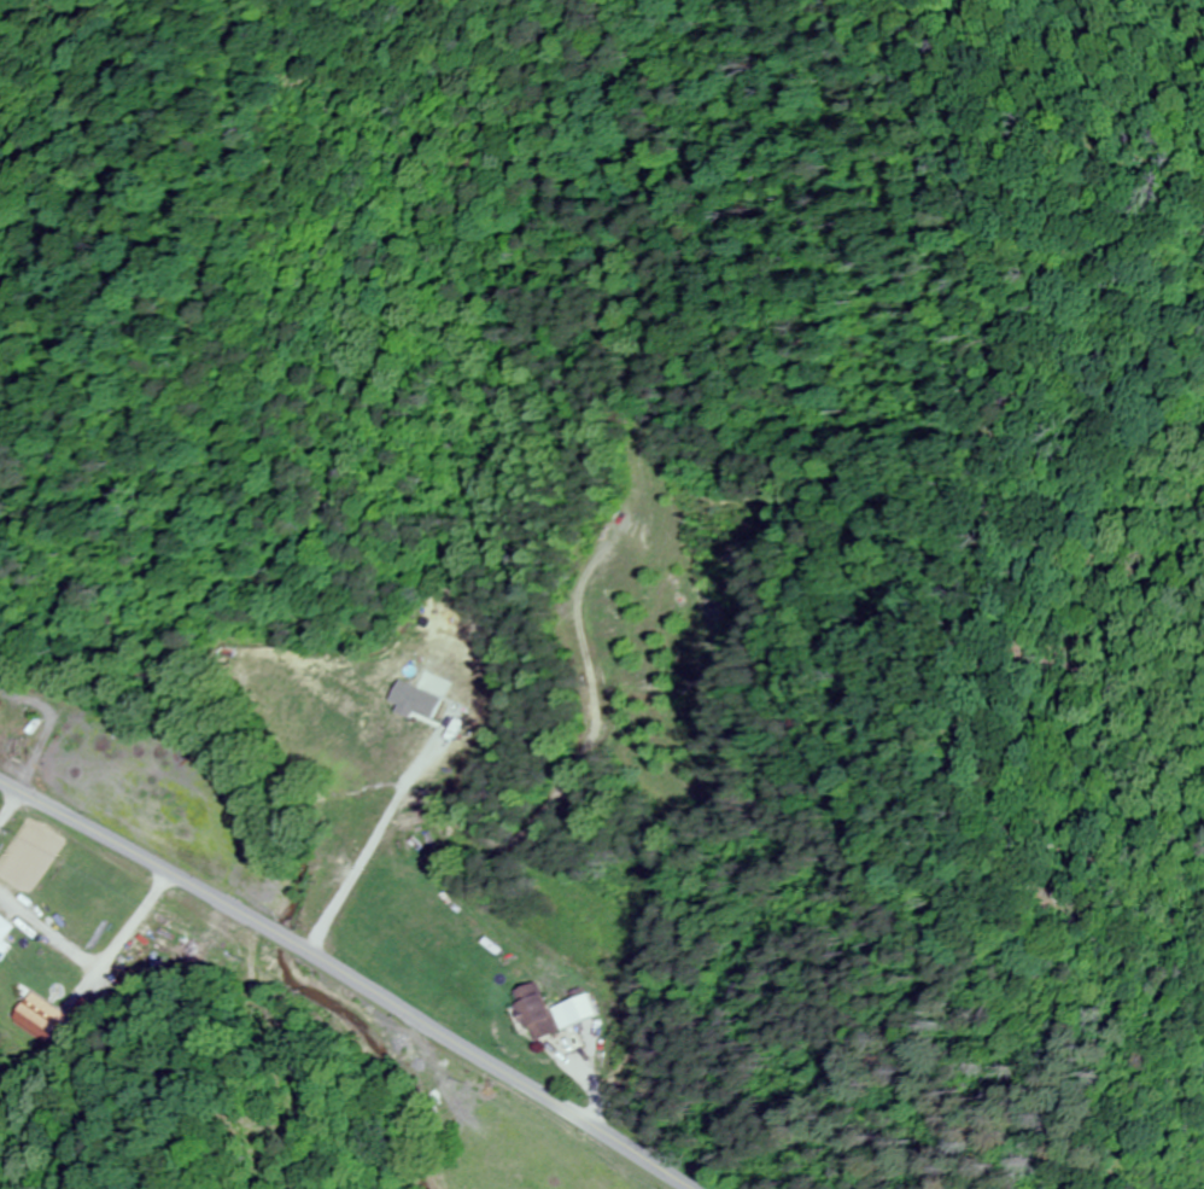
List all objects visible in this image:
building: (8, 931)
road: (340, 980)
building: (557, 1012)
building: (42, 1025)

